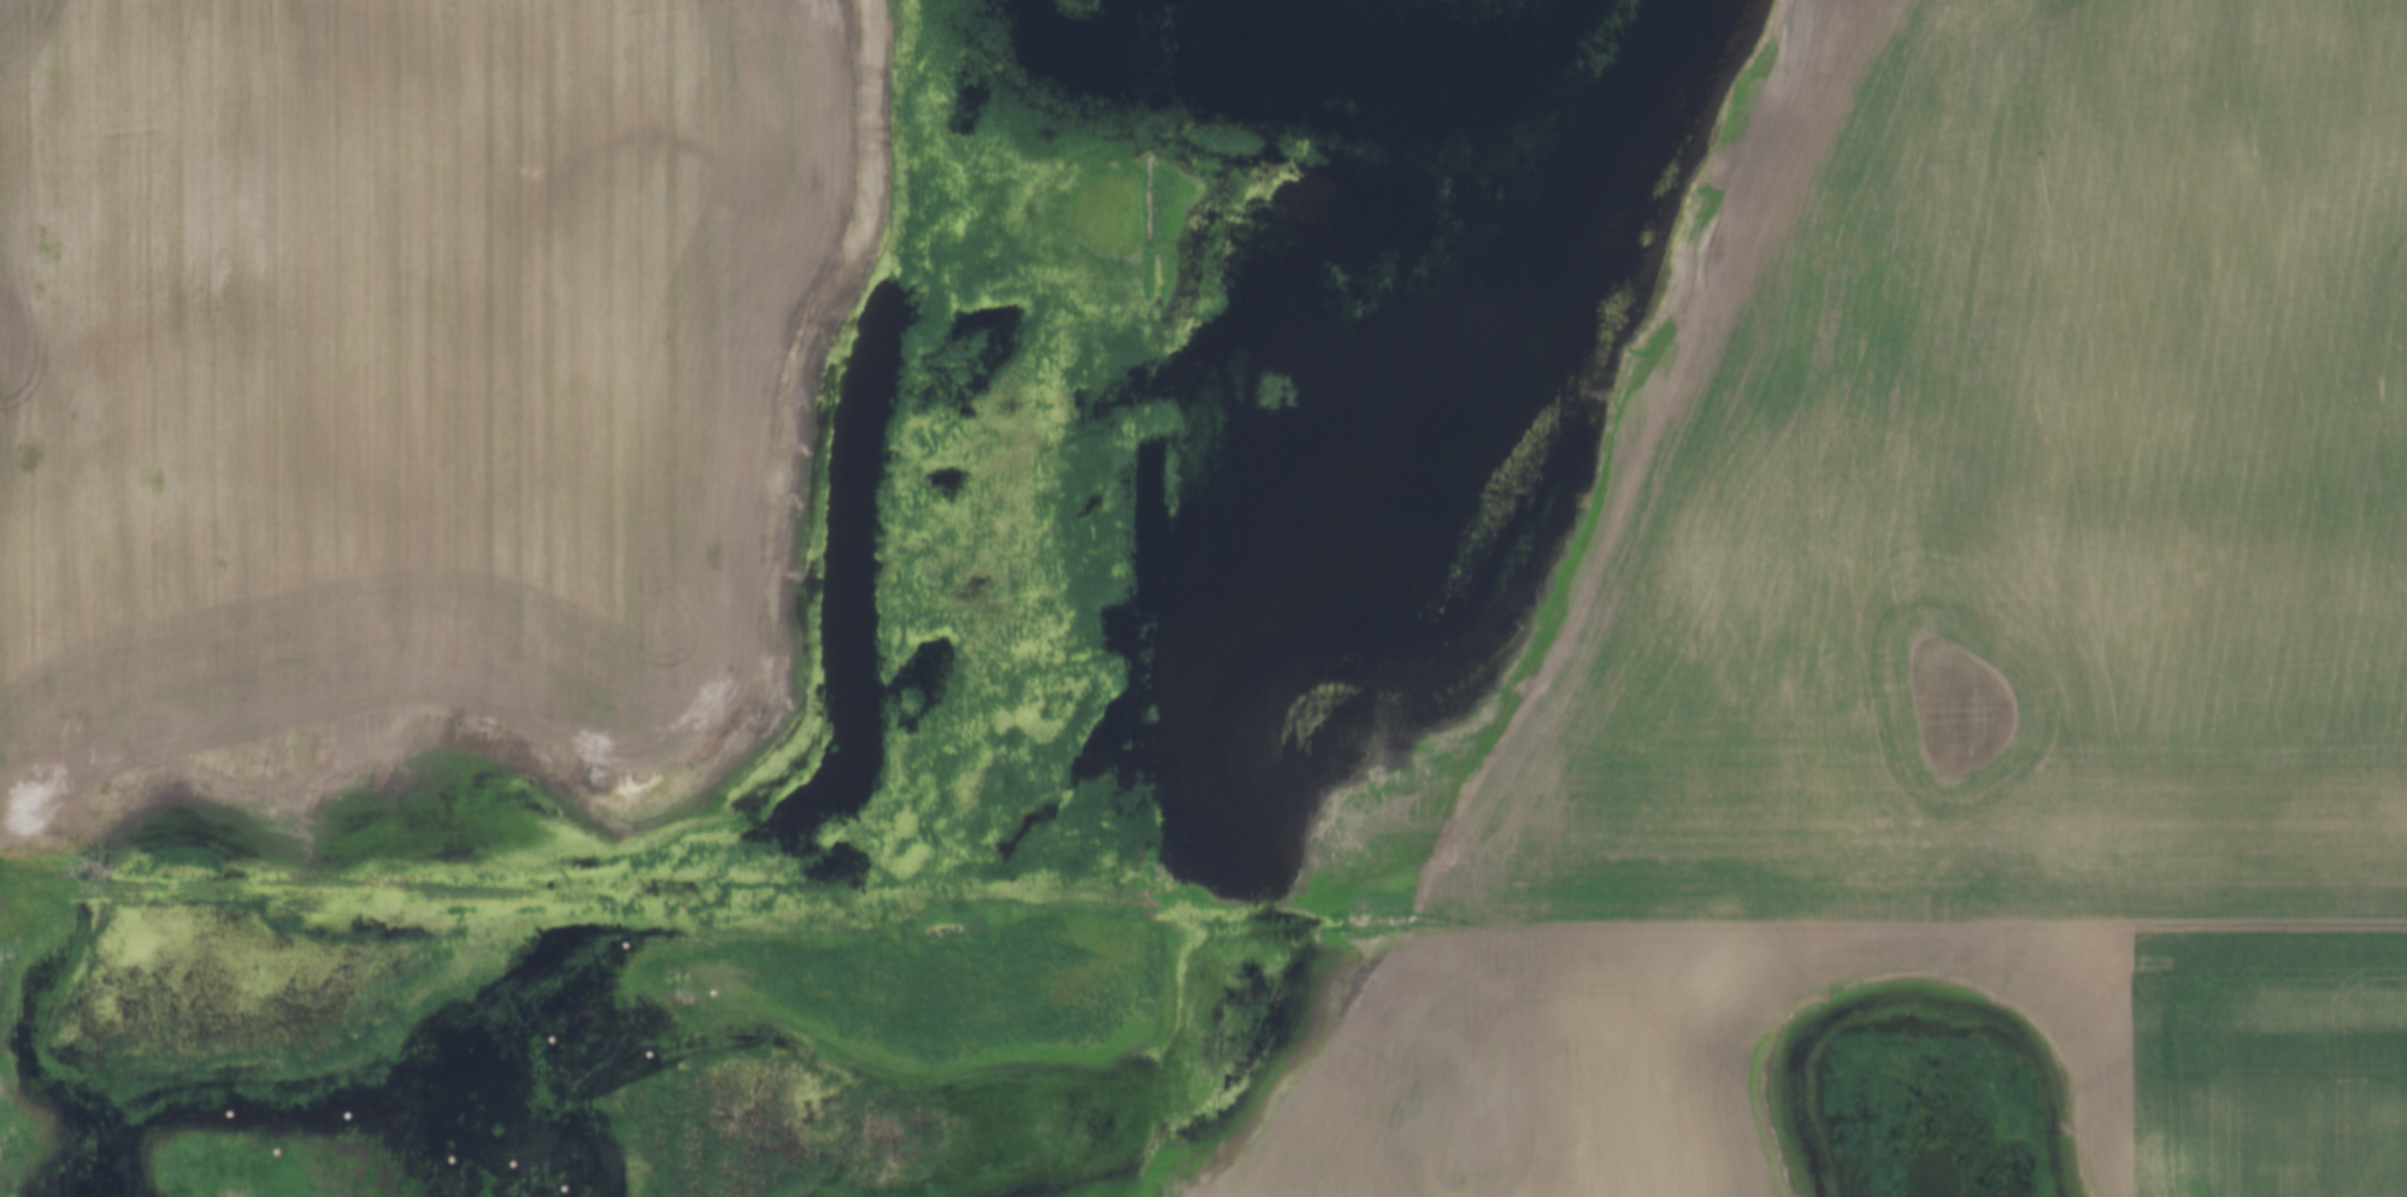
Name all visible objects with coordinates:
road: (1203, 877)

